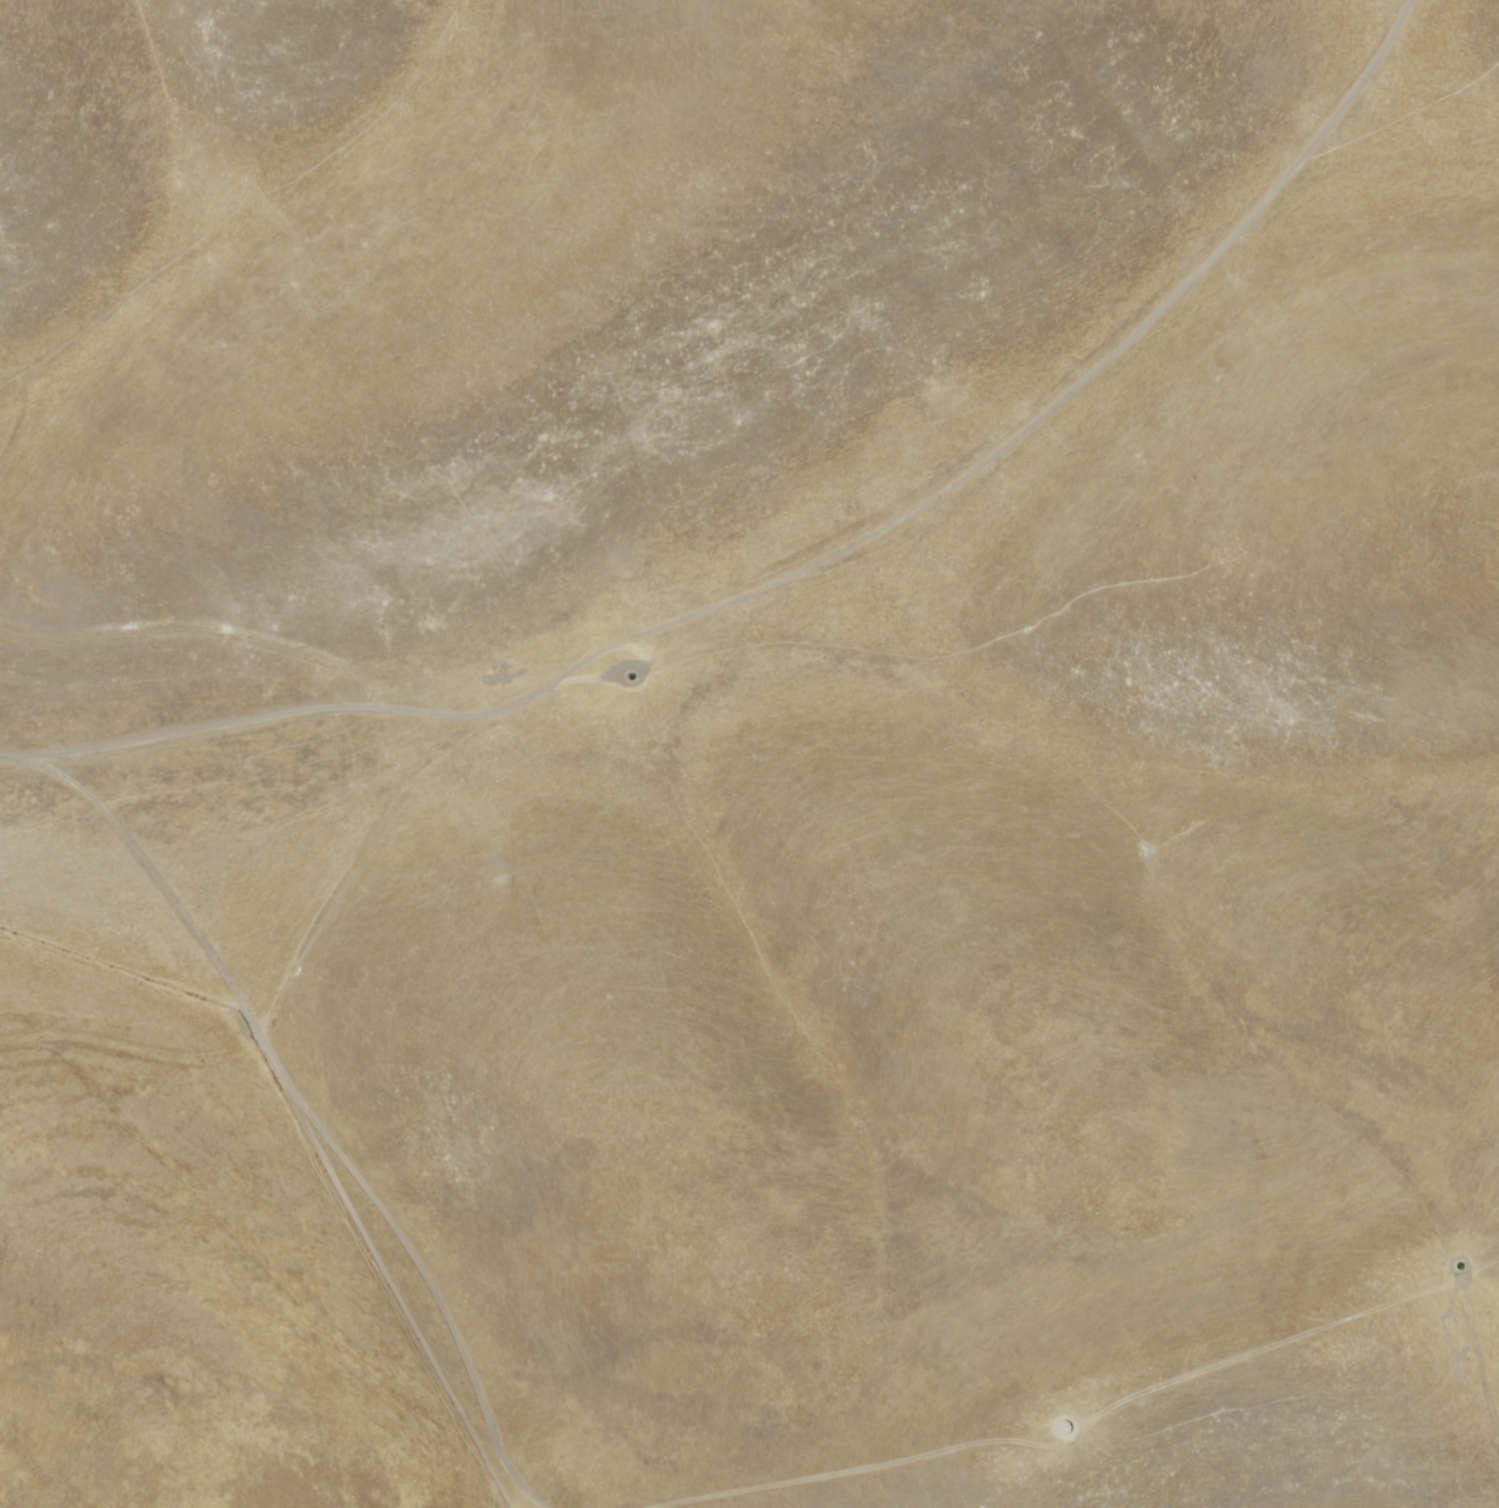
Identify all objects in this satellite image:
road: (6, 405)
road: (258, 647)
road: (582, 657)
building: (1058, 1430)

